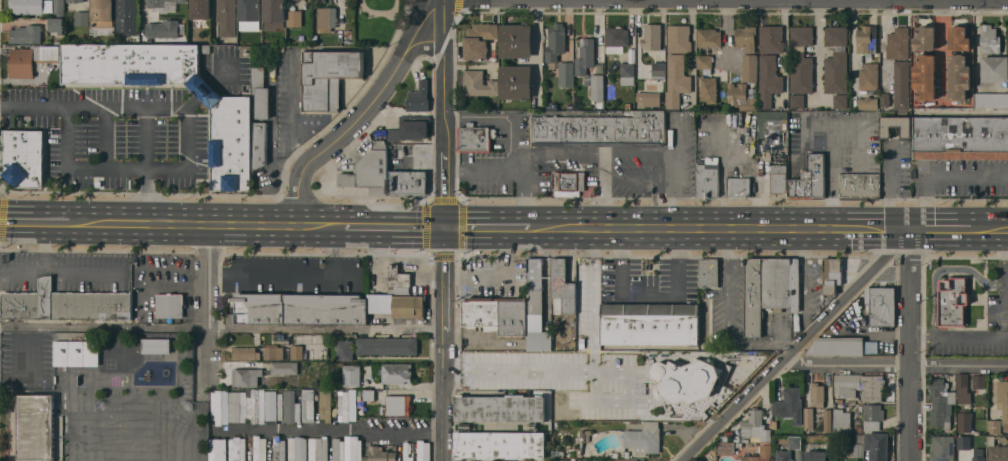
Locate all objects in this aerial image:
building: (75, 0)
road: (618, 0)
building: (165, 1)
road: (878, 1)
road: (903, 1)
road: (795, 3)
building: (27, 6)
building: (201, 9)
building: (249, 10)
building: (102, 13)
building: (274, 14)
building: (57, 16)
building: (226, 17)
building: (82, 18)
building: (127, 18)
building: (294, 18)
building: (326, 18)
park: (377, 20)
building: (163, 28)
building: (28, 32)
road: (726, 34)
building: (652, 36)
building: (709, 37)
building: (925, 37)
building: (959, 37)
building: (679, 38)
building: (771, 38)
building: (479, 39)
building: (616, 39)
building: (867, 39)
building: (990, 39)
building: (516, 40)
building: (556, 41)
building: (898, 42)
road: (885, 43)
road: (821, 48)
building: (747, 51)
road: (941, 52)
building: (47, 53)
building: (585, 56)
road: (976, 57)
building: (801, 59)
building: (836, 59)
building: (704, 61)
building: (21, 63)
building: (129, 63)
building: (995, 68)
building: (658, 70)
building: (566, 73)
building: (628, 73)
building: (869, 76)
building: (925, 76)
building: (959, 76)
building: (328, 77)
building: (676, 80)
building: (769, 80)
building: (516, 82)
building: (478, 83)
building: (597, 84)
building: (902, 84)
building: (259, 88)
building: (709, 89)
building: (741, 96)
building: (419, 98)
building: (649, 98)
building: (797, 100)
building: (991, 100)
building: (840, 101)
building: (868, 103)
road: (127, 107)
road: (362, 113)
road: (962, 113)
building: (895, 126)
building: (410, 128)
building: (601, 129)
building: (769, 129)
road: (836, 129)
building: (475, 137)
building: (961, 137)
building: (231, 143)
road: (513, 143)
building: (259, 144)
road: (679, 144)
road: (736, 151)
road: (558, 152)
building: (25, 157)
road: (661, 161)
road: (147, 170)
building: (370, 170)
road: (940, 175)
building: (708, 177)
building: (778, 178)
road: (830, 178)
building: (809, 180)
building: (409, 181)
building: (568, 182)
building: (860, 185)
road: (891, 185)
building: (738, 186)
road: (604, 189)
road: (525, 194)
road: (44, 217)
road: (211, 220)
road: (390, 223)
traffic signals: (446, 224)
road: (496, 224)
road: (688, 226)
road: (871, 228)
road: (960, 228)
road: (445, 230)
road: (44, 244)
road: (943, 268)
road: (57, 271)
building: (708, 272)
building: (832, 274)
road: (296, 275)
road: (501, 276)
building: (399, 280)
parking lot: (649, 280)
building: (776, 282)
building: (795, 286)
building: (563, 288)
building: (534, 294)
road: (651, 294)
road: (593, 296)
building: (753, 296)
parking lot: (998, 300)
building: (953, 302)
road: (209, 303)
building: (65, 304)
building: (170, 305)
building: (881, 305)
building: (406, 306)
building: (298, 308)
building: (496, 314)
building: (650, 324)
road: (104, 326)
building: (583, 328)
road: (325, 329)
road: (984, 335)
building: (540, 341)
road: (912, 344)
building: (156, 345)
building: (387, 345)
building: (837, 347)
road: (796, 348)
building: (345, 349)
building: (77, 352)
building: (245, 352)
building: (297, 352)
building: (274, 353)
building: (120, 355)
building: (611, 355)
building: (636, 355)
road: (895, 362)
building: (515, 363)
building: (284, 367)
building: (397, 373)
building: (351, 375)
building: (246, 376)
building: (570, 379)
building: (979, 381)
road: (523, 382)
building: (684, 384)
building: (860, 385)
building: (963, 388)
building: (818, 394)
building: (369, 395)
building: (1003, 400)
building: (940, 402)
building: (325, 404)
building: (345, 404)
building: (398, 404)
building: (790, 404)
building: (235, 405)
building: (253, 405)
building: (219, 406)
building: (282, 406)
building: (308, 406)
building: (500, 407)
building: (873, 416)
building: (808, 418)
building: (827, 420)
building: (842, 421)
building: (965, 421)
building: (755, 426)
building: (994, 426)
building: (36, 427)
road: (328, 432)
building: (644, 438)
building: (795, 442)
building: (964, 442)
building: (500, 444)
building: (877, 445)
building: (856, 446)
building: (727, 447)
building: (943, 447)
building: (239, 448)
building: (259, 448)
building: (279, 448)
building: (297, 448)
building: (321, 448)
building: (356, 448)
building: (994, 448)
building: (217, 449)
building: (338, 449)
building: (766, 449)
building: (408, 451)
building: (423, 451)
building: (380, 454)
building: (784, 455)
building: (816, 455)
building: (625, 459)
building: (978, 459)
building: (563, 460)

